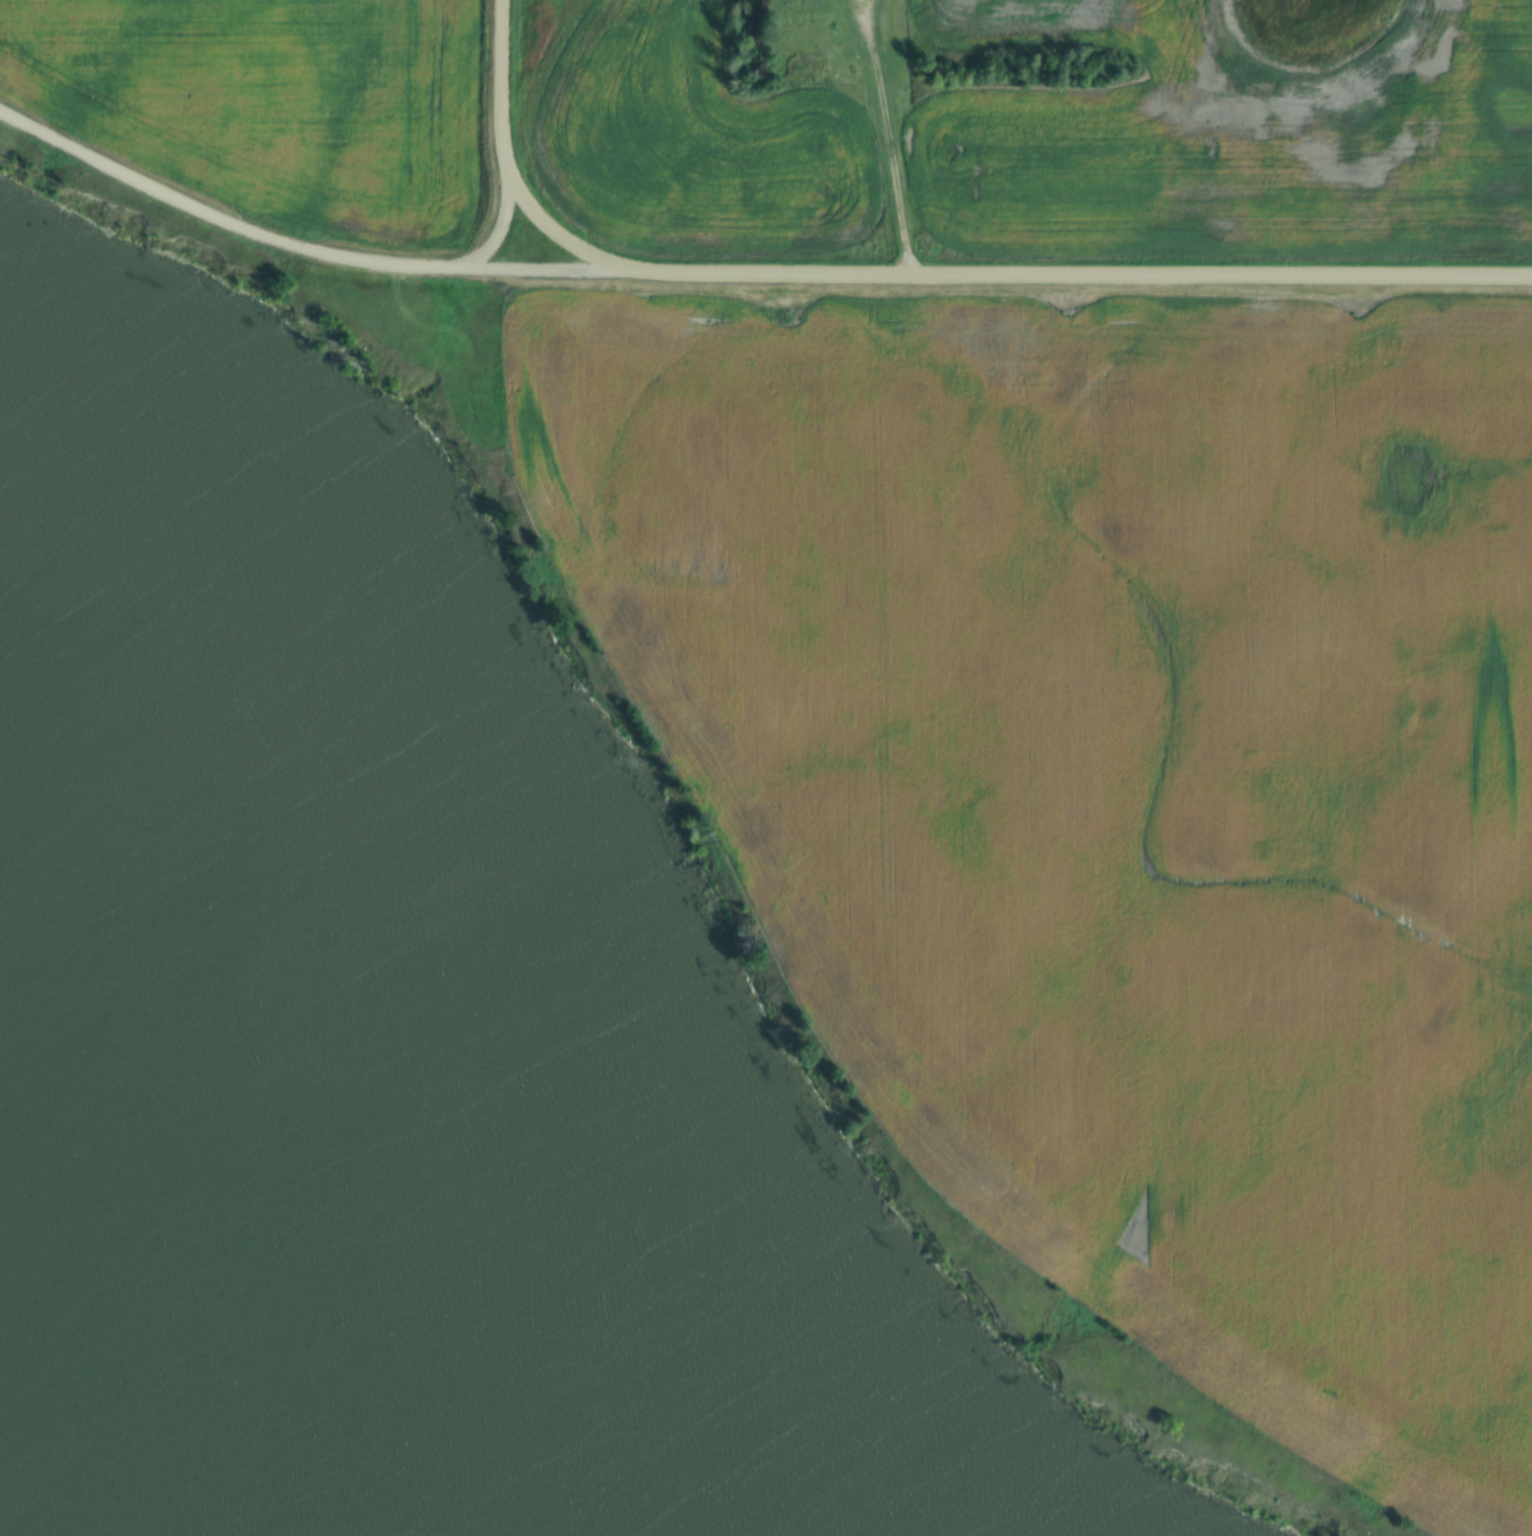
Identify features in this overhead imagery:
road: (501, 95)
road: (889, 138)
road: (501, 238)
road: (564, 247)
road: (303, 251)
road: (1084, 276)

